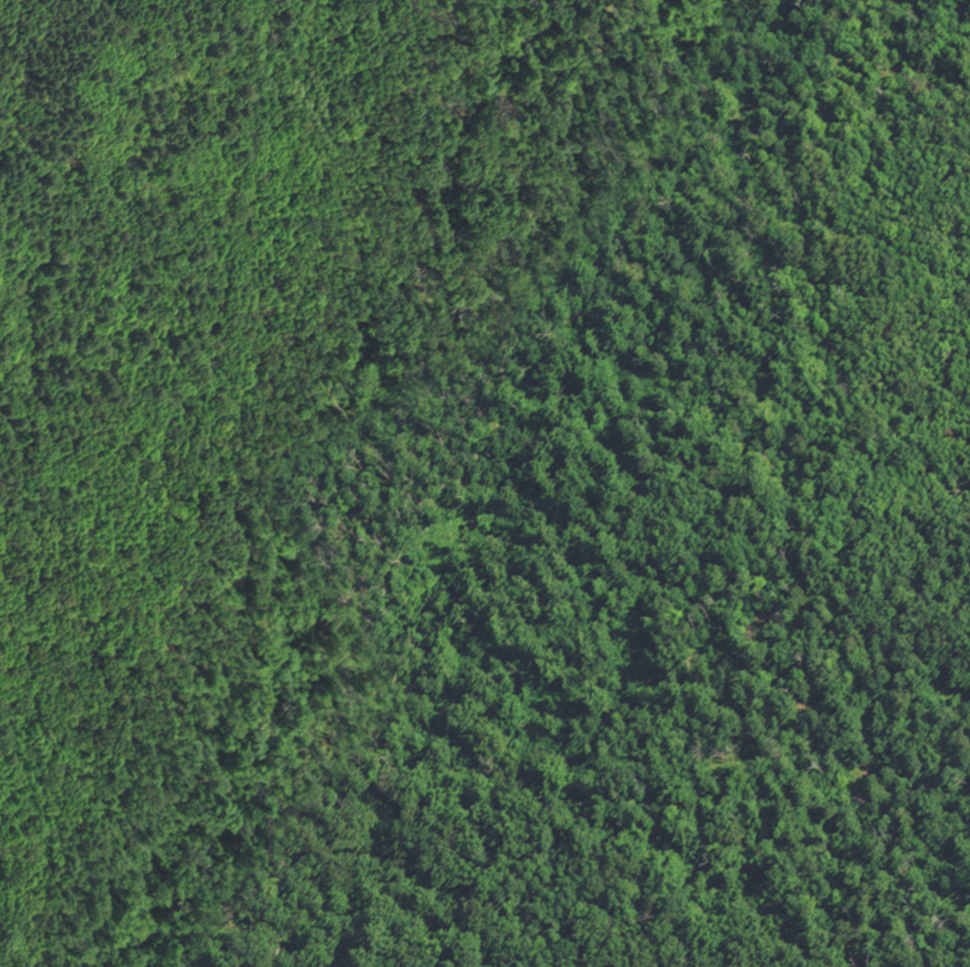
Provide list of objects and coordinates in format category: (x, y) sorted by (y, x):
road: (383, 482)

